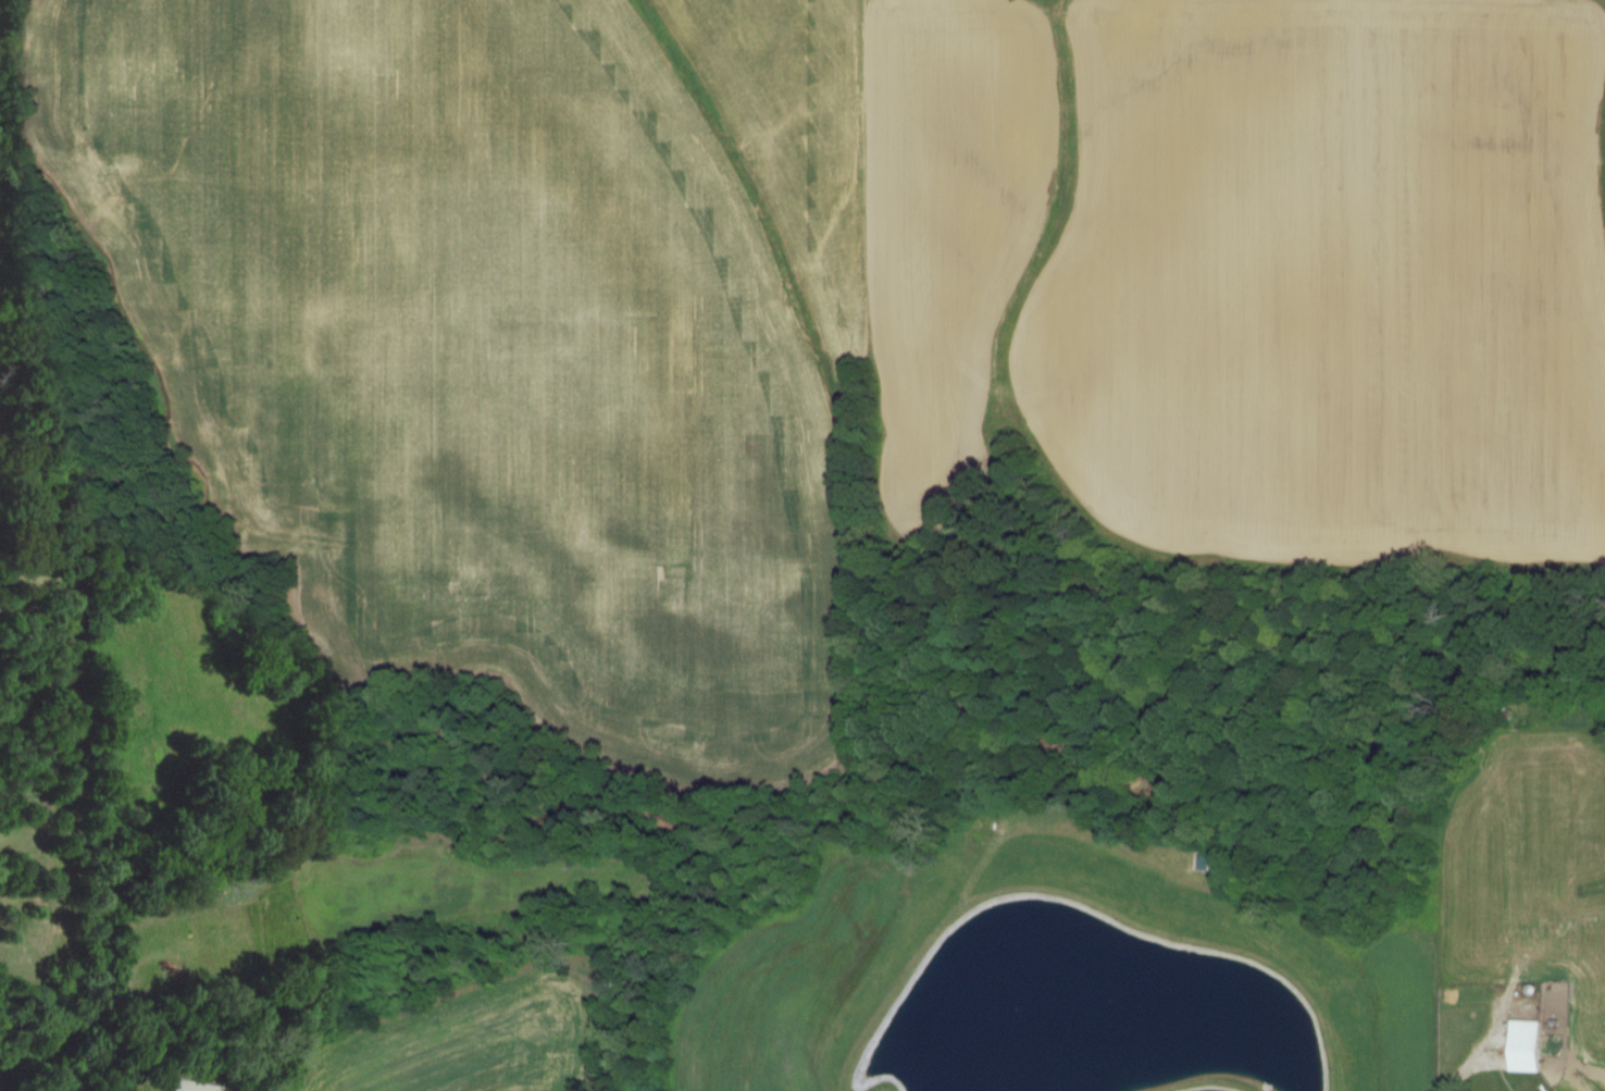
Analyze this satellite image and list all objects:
building: (1204, 858)
building: (1528, 1045)
road: (1463, 1071)
building: (192, 1086)

